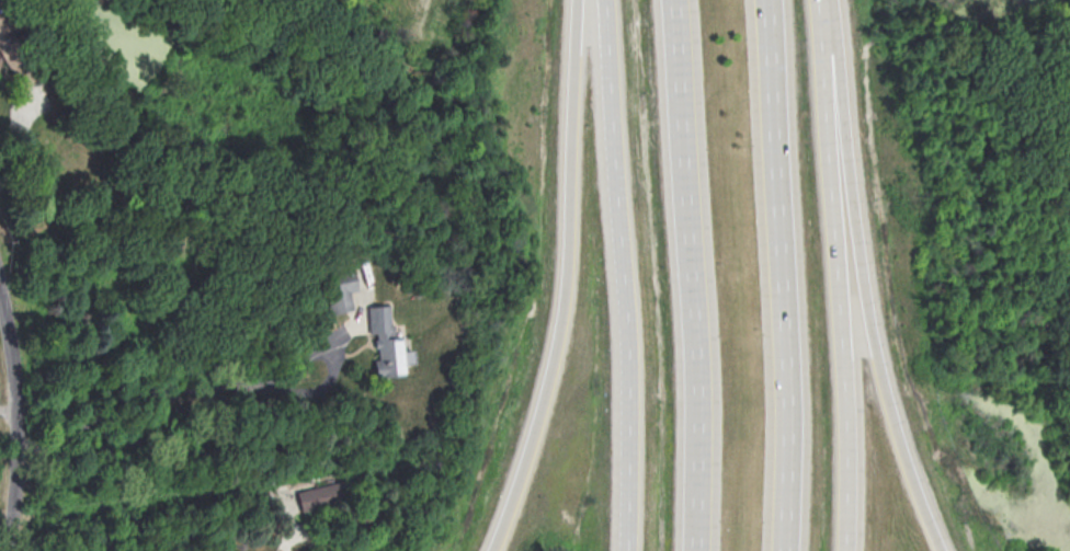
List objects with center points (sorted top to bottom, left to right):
road: (624, 275)
road: (693, 275)
road: (783, 275)
road: (840, 275)
road: (865, 279)
road: (567, 280)
building: (339, 289)
building: (386, 343)
road: (225, 387)
road: (9, 418)
road: (18, 420)
road: (262, 491)
building: (319, 495)

